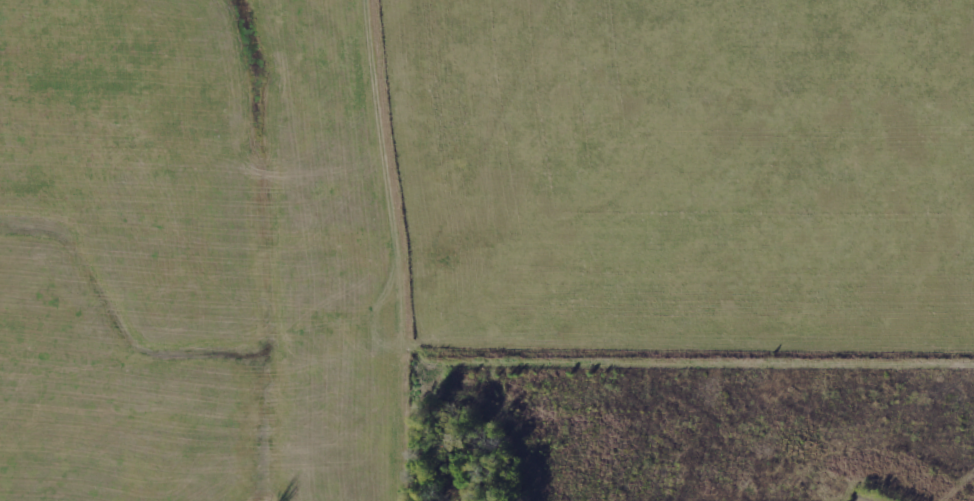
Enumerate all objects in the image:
road: (408, 250)

